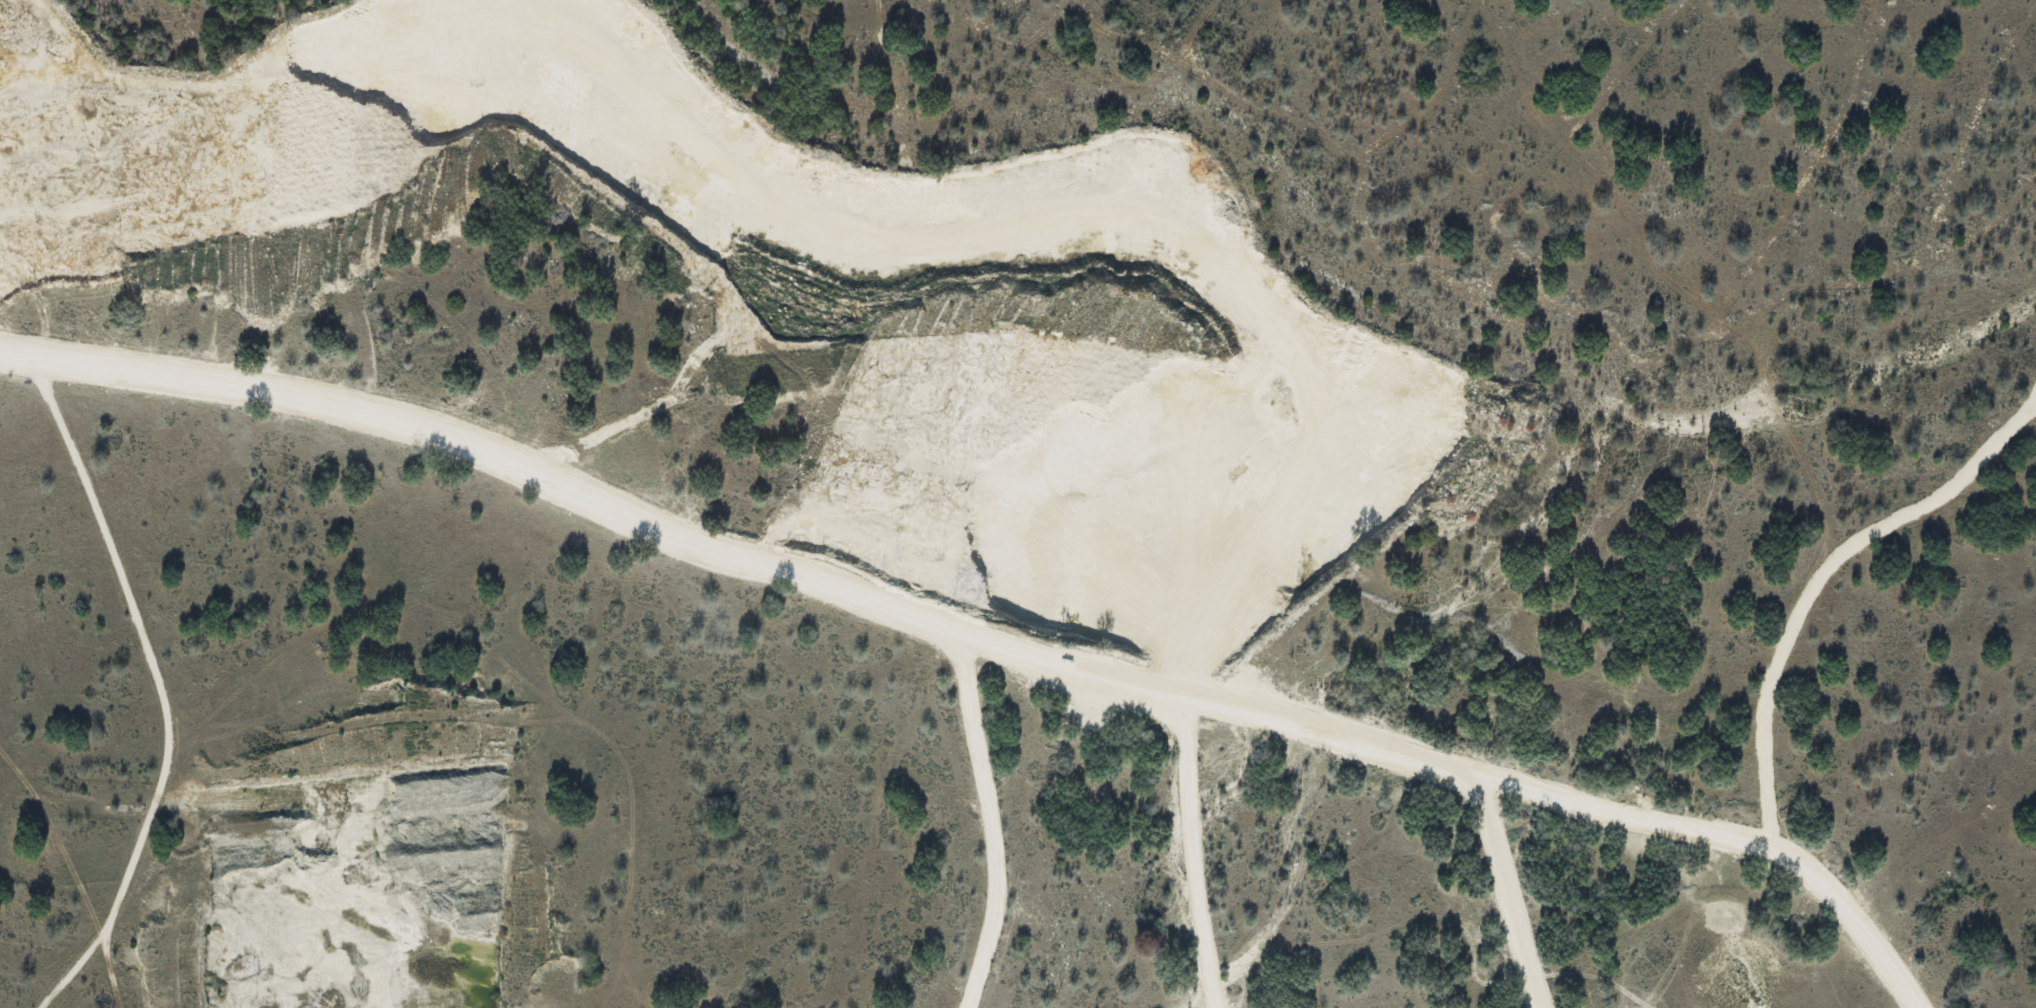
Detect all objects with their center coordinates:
road: (878, 613)
road: (994, 828)
road: (1192, 855)
road: (1506, 890)
road: (1847, 921)

